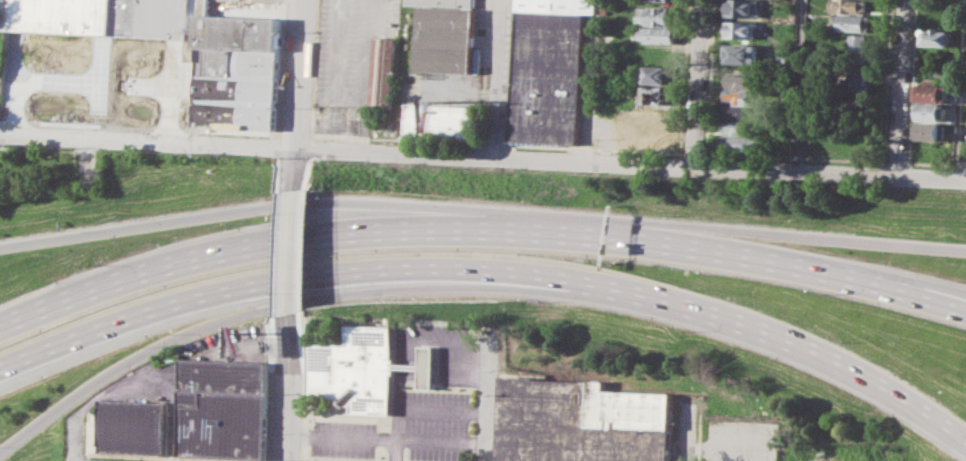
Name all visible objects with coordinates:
building: (673, 0)
building: (849, 5)
building: (745, 7)
building: (101, 16)
building: (659, 16)
building: (852, 22)
building: (744, 29)
building: (662, 34)
building: (447, 35)
building: (937, 37)
building: (859, 47)
building: (743, 53)
building: (789, 58)
building: (479, 60)
building: (237, 70)
building: (551, 70)
building: (388, 72)
building: (660, 74)
road: (500, 78)
building: (859, 80)
building: (744, 81)
road: (700, 83)
road: (800, 85)
road: (901, 87)
road: (410, 92)
building: (932, 93)
building: (661, 94)
road: (89, 95)
road: (301, 95)
building: (747, 97)
building: (745, 112)
building: (931, 112)
building: (444, 119)
building: (655, 125)
building: (744, 126)
building: (935, 130)
building: (745, 143)
road: (483, 156)
road: (207, 214)
road: (528, 224)
road: (804, 236)
road: (294, 251)
road: (202, 254)
road: (804, 271)
road: (493, 272)
road: (200, 327)
building: (423, 366)
building: (357, 369)
road: (405, 376)
road: (123, 384)
road: (288, 386)
road: (493, 397)
building: (225, 409)
road: (444, 412)
building: (582, 422)
building: (131, 427)
parking lot: (403, 431)
road: (689, 434)
road: (388, 438)
road: (77, 439)
road: (891, 458)

